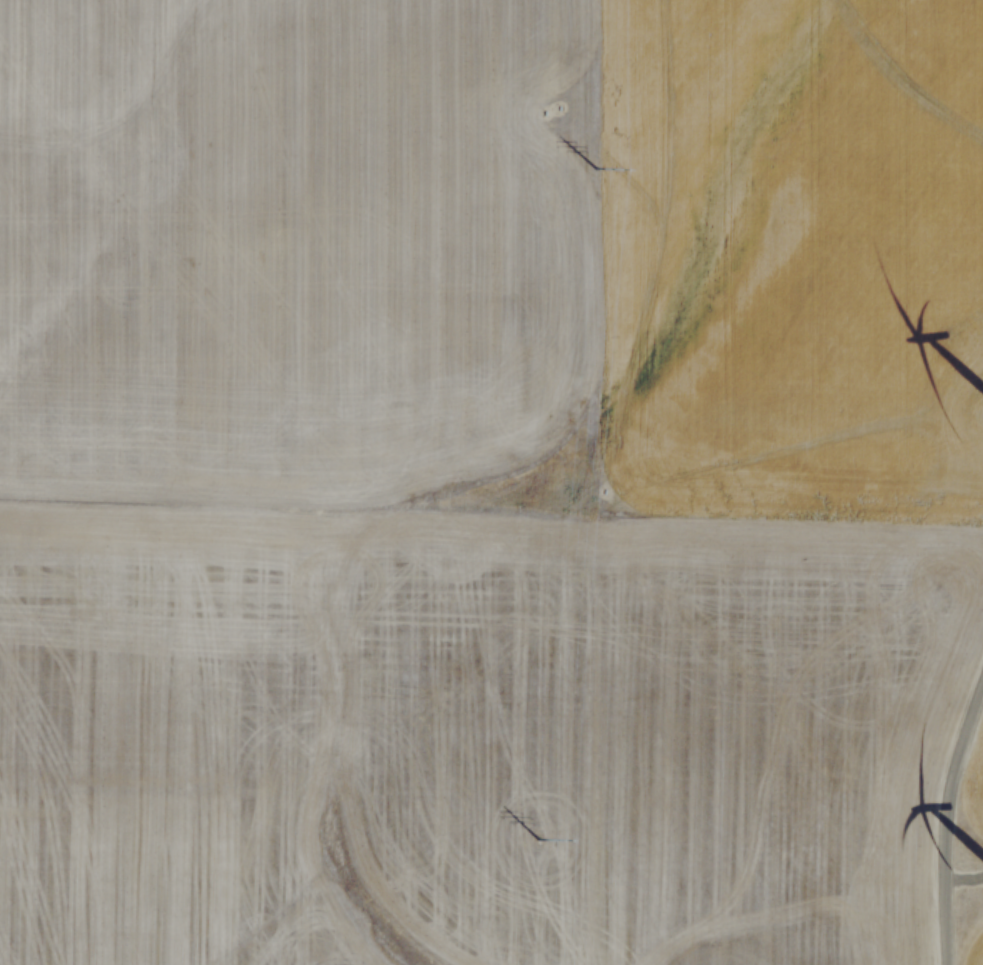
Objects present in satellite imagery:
power tower: (596, 177)
road: (941, 805)
power tower: (537, 847)

